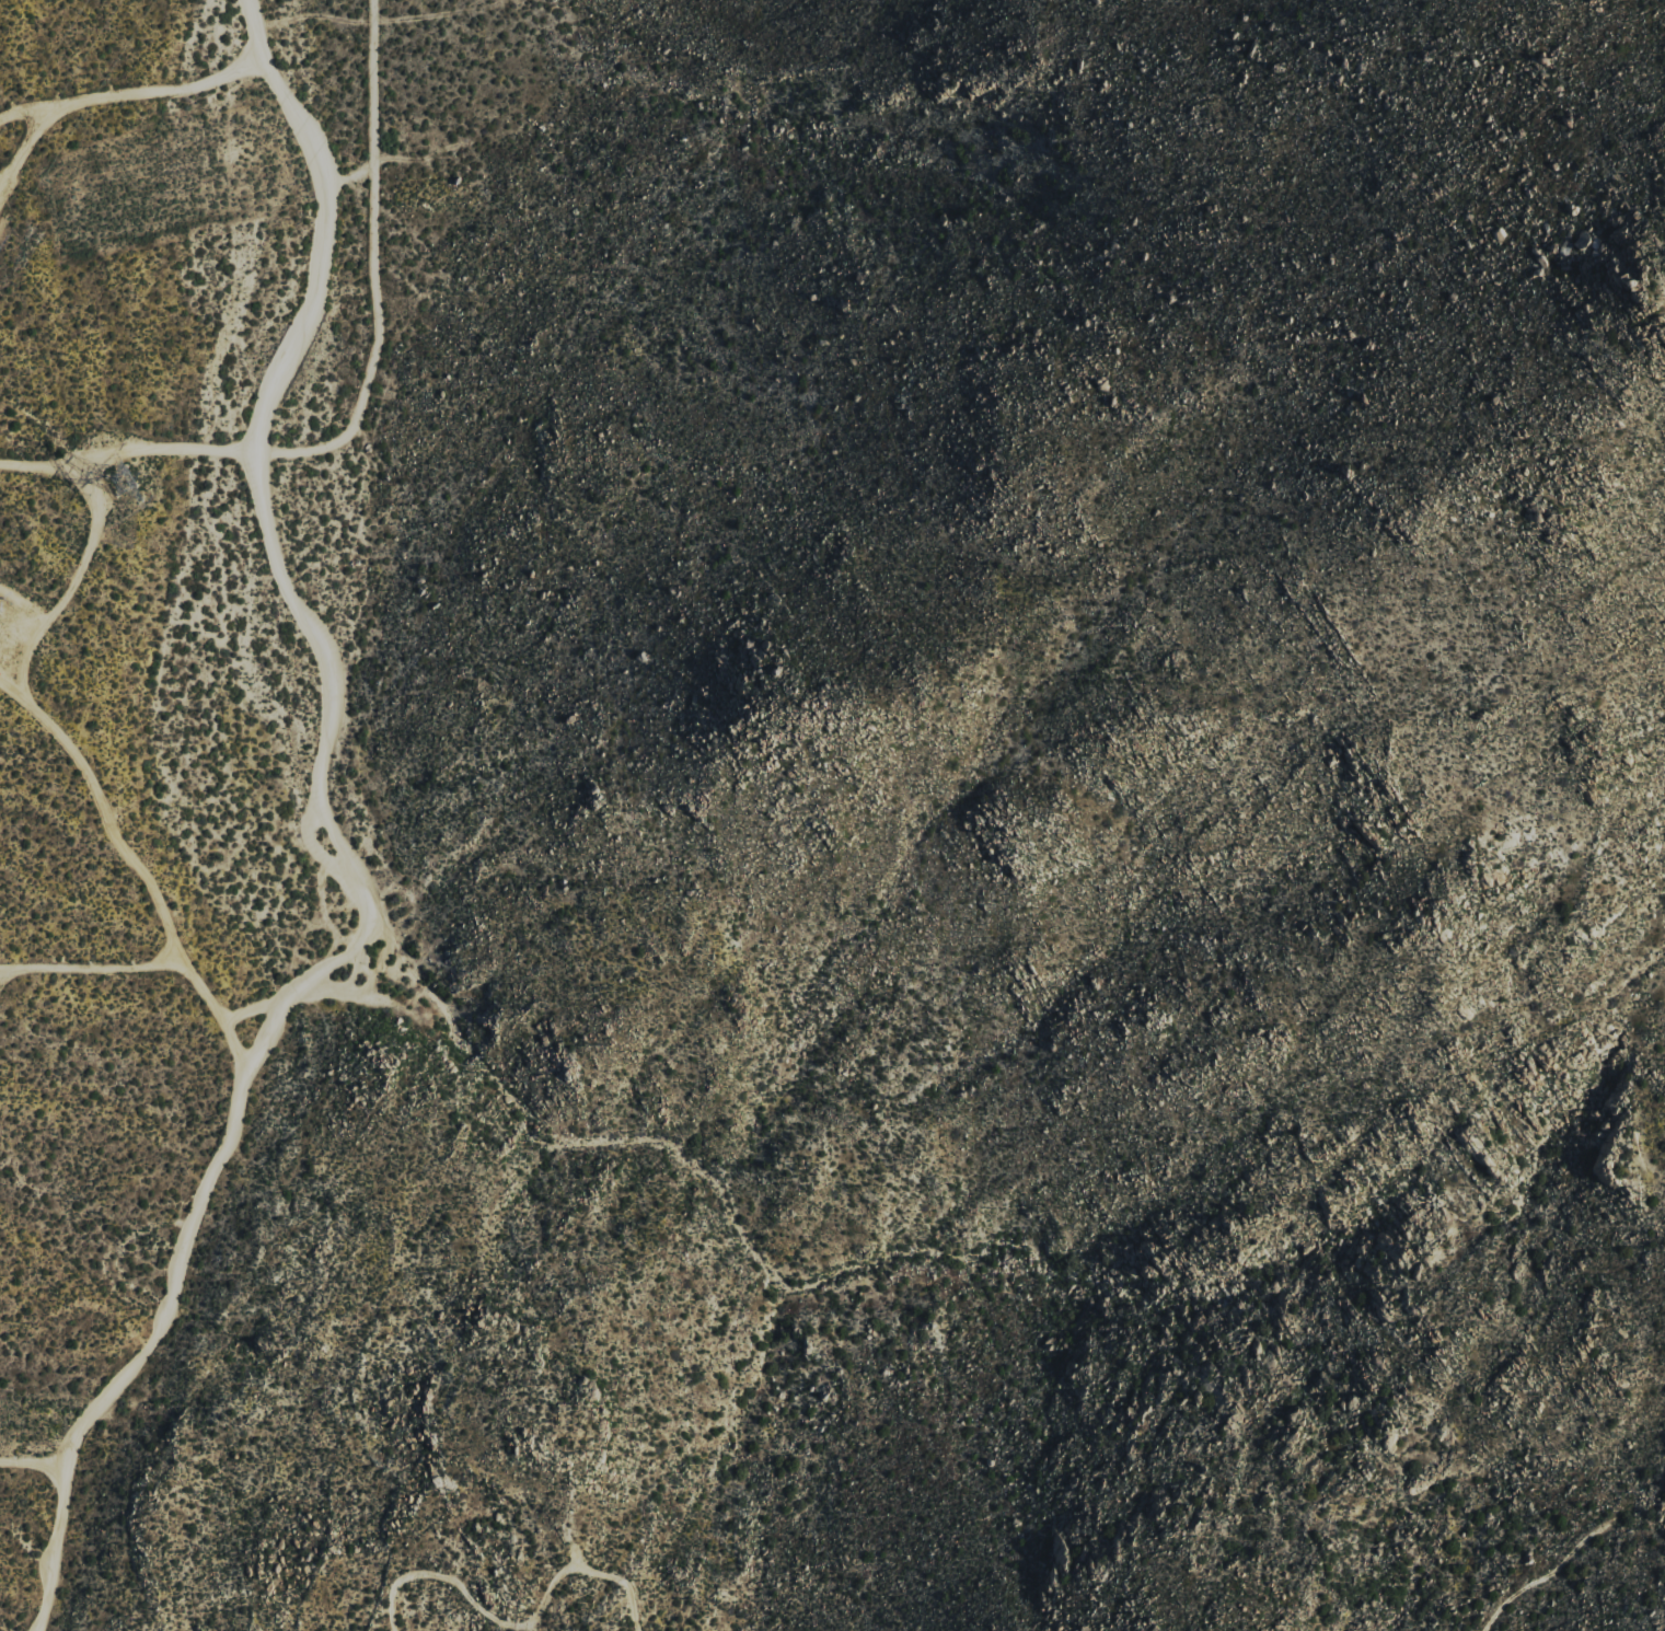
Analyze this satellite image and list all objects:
road: (127, 453)
power tower: (117, 482)
road: (72, 588)
road: (342, 854)
road: (140, 868)
road: (1557, 1569)
road: (516, 1626)

